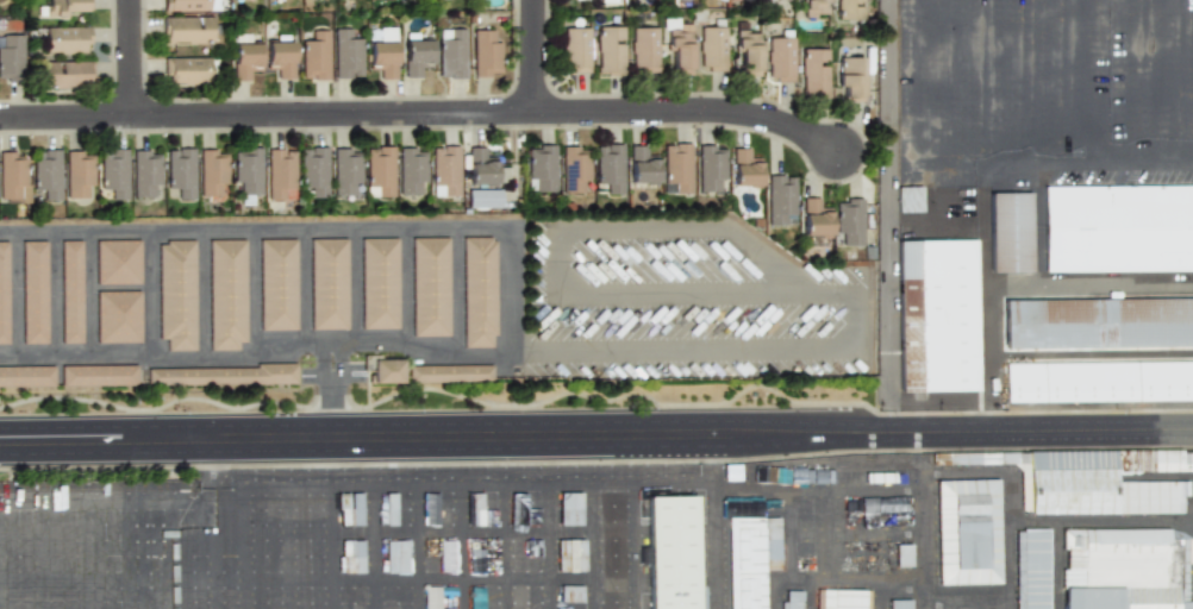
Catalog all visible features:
building: (192, 5)
building: (814, 7)
building: (68, 8)
building: (849, 10)
building: (187, 29)
building: (67, 39)
building: (711, 46)
building: (575, 49)
building: (643, 49)
building: (608, 51)
building: (677, 51)
building: (383, 52)
building: (416, 52)
building: (486, 52)
building: (747, 54)
building: (345, 55)
building: (451, 55)
building: (11, 56)
building: (243, 56)
building: (280, 56)
building: (314, 56)
road: (533, 56)
building: (780, 57)
road: (130, 58)
building: (186, 70)
building: (814, 73)
building: (67, 74)
building: (850, 77)
road: (918, 83)
road: (947, 83)
road: (981, 83)
road: (1024, 83)
road: (1064, 83)
road: (1103, 83)
road: (1143, 83)
road: (1183, 83)
road: (691, 111)
road: (266, 114)
building: (610, 165)
building: (641, 165)
building: (483, 167)
road: (1056, 167)
building: (411, 168)
building: (539, 168)
building: (676, 168)
building: (711, 168)
building: (313, 169)
building: (744, 169)
building: (180, 170)
building: (246, 170)
building: (379, 170)
building: (444, 170)
building: (574, 170)
building: (213, 171)
building: (346, 171)
building: (79, 172)
building: (113, 172)
building: (48, 174)
building: (145, 174)
building: (12, 175)
building: (281, 175)
building: (482, 197)
building: (780, 197)
building: (912, 199)
building: (816, 216)
road: (887, 216)
building: (789, 219)
building: (850, 220)
road: (1037, 228)
building: (1120, 228)
building: (1012, 232)
building: (118, 262)
building: (327, 283)
building: (379, 283)
building: (277, 284)
building: (430, 287)
road: (352, 288)
road: (252, 289)
road: (301, 289)
road: (401, 290)
road: (1008, 290)
building: (35, 291)
building: (71, 291)
building: (477, 291)
building: (4, 293)
building: (176, 294)
building: (226, 294)
road: (454, 294)
road: (731, 294)
road: (149, 295)
road: (200, 295)
road: (15, 296)
road: (52, 296)
road: (89, 296)
road: (512, 299)
building: (118, 316)
building: (941, 319)
building: (1099, 322)
road: (1058, 352)
road: (343, 365)
road: (319, 368)
building: (383, 369)
building: (449, 373)
building: (98, 375)
building: (221, 375)
building: (26, 376)
building: (1100, 382)
road: (986, 393)
road: (612, 398)
street lamp: (648, 403)
street lamp: (413, 406)
street lamp: (179, 408)
road: (333, 410)
street lamp: (1117, 410)
street lamp: (881, 412)
road: (963, 433)
road: (366, 437)
road: (711, 458)
road: (236, 466)
road: (207, 471)
road: (585, 483)
road: (818, 488)
building: (1073, 491)
road: (226, 496)
building: (1151, 497)
building: (430, 508)
building: (473, 508)
building: (569, 508)
building: (517, 509)
road: (925, 520)
road: (1032, 523)
building: (972, 532)
building: (351, 535)
building: (393, 540)
road: (633, 545)
road: (419, 546)
road: (461, 546)
road: (505, 546)
road: (548, 546)
road: (592, 546)
road: (287, 547)
road: (375, 547)
road: (244, 548)
building: (673, 553)
road: (39, 555)
road: (82, 555)
road: (130, 555)
road: (173, 555)
road: (213, 555)
building: (446, 555)
building: (570, 555)
building: (902, 555)
building: (747, 563)
road: (1008, 565)
road: (1057, 566)
building: (1038, 569)
building: (1126, 569)
road: (811, 578)
road: (774, 586)
building: (569, 594)
road: (811, 594)
road: (879, 594)
building: (432, 597)
building: (792, 599)
building: (842, 599)
building: (902, 604)
road: (967, 605)
road: (970, 607)

